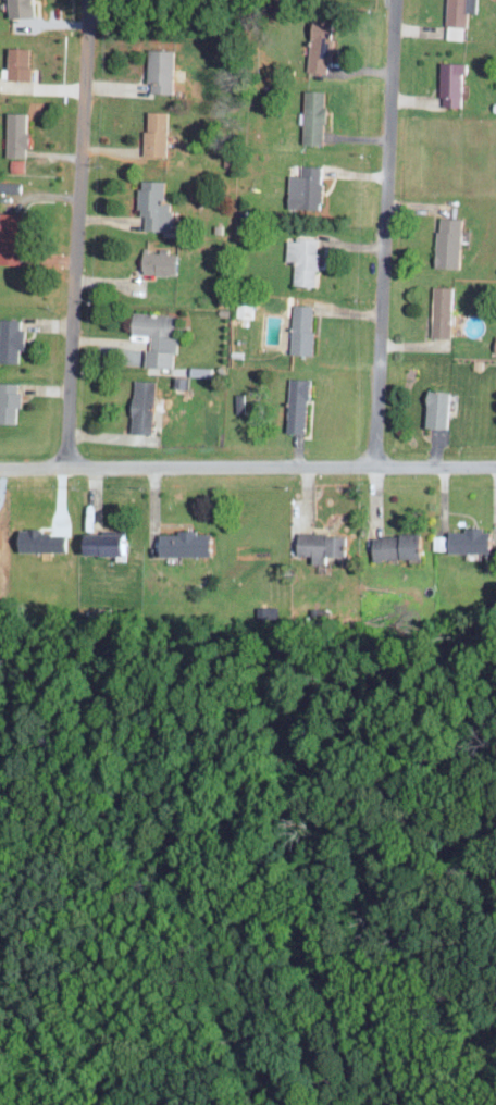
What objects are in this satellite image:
building: (16, 8)
building: (456, 11)
building: (317, 46)
building: (15, 62)
building: (158, 70)
building: (448, 83)
building: (311, 115)
building: (13, 133)
building: (152, 133)
building: (302, 187)
building: (150, 203)
road: (386, 234)
road: (78, 235)
building: (446, 241)
building: (301, 259)
building: (157, 261)
building: (439, 310)
building: (299, 328)
building: (153, 336)
building: (9, 338)
building: (494, 343)
building: (8, 400)
building: (295, 405)
building: (433, 408)
road: (247, 468)
building: (464, 539)
building: (95, 543)
building: (181, 543)
building: (317, 545)
building: (392, 546)

